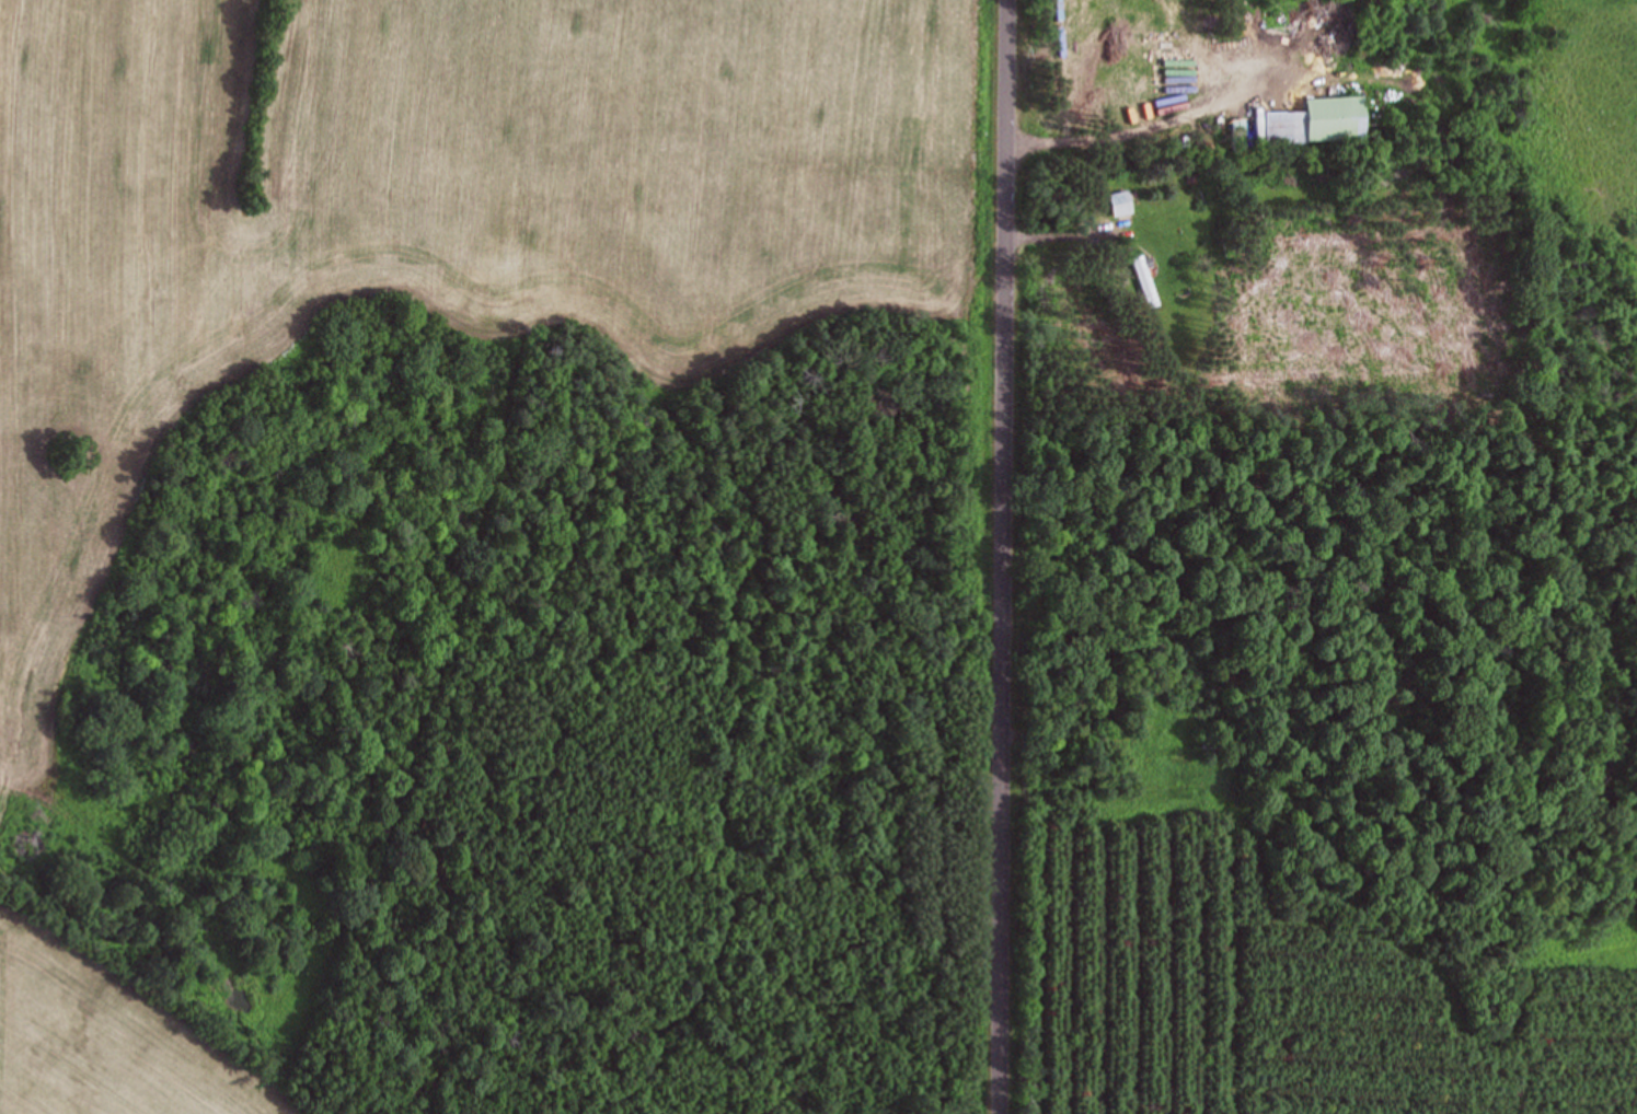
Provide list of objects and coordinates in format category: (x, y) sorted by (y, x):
building: (1321, 119)
building: (1120, 202)
building: (1150, 281)
road: (1014, 556)

